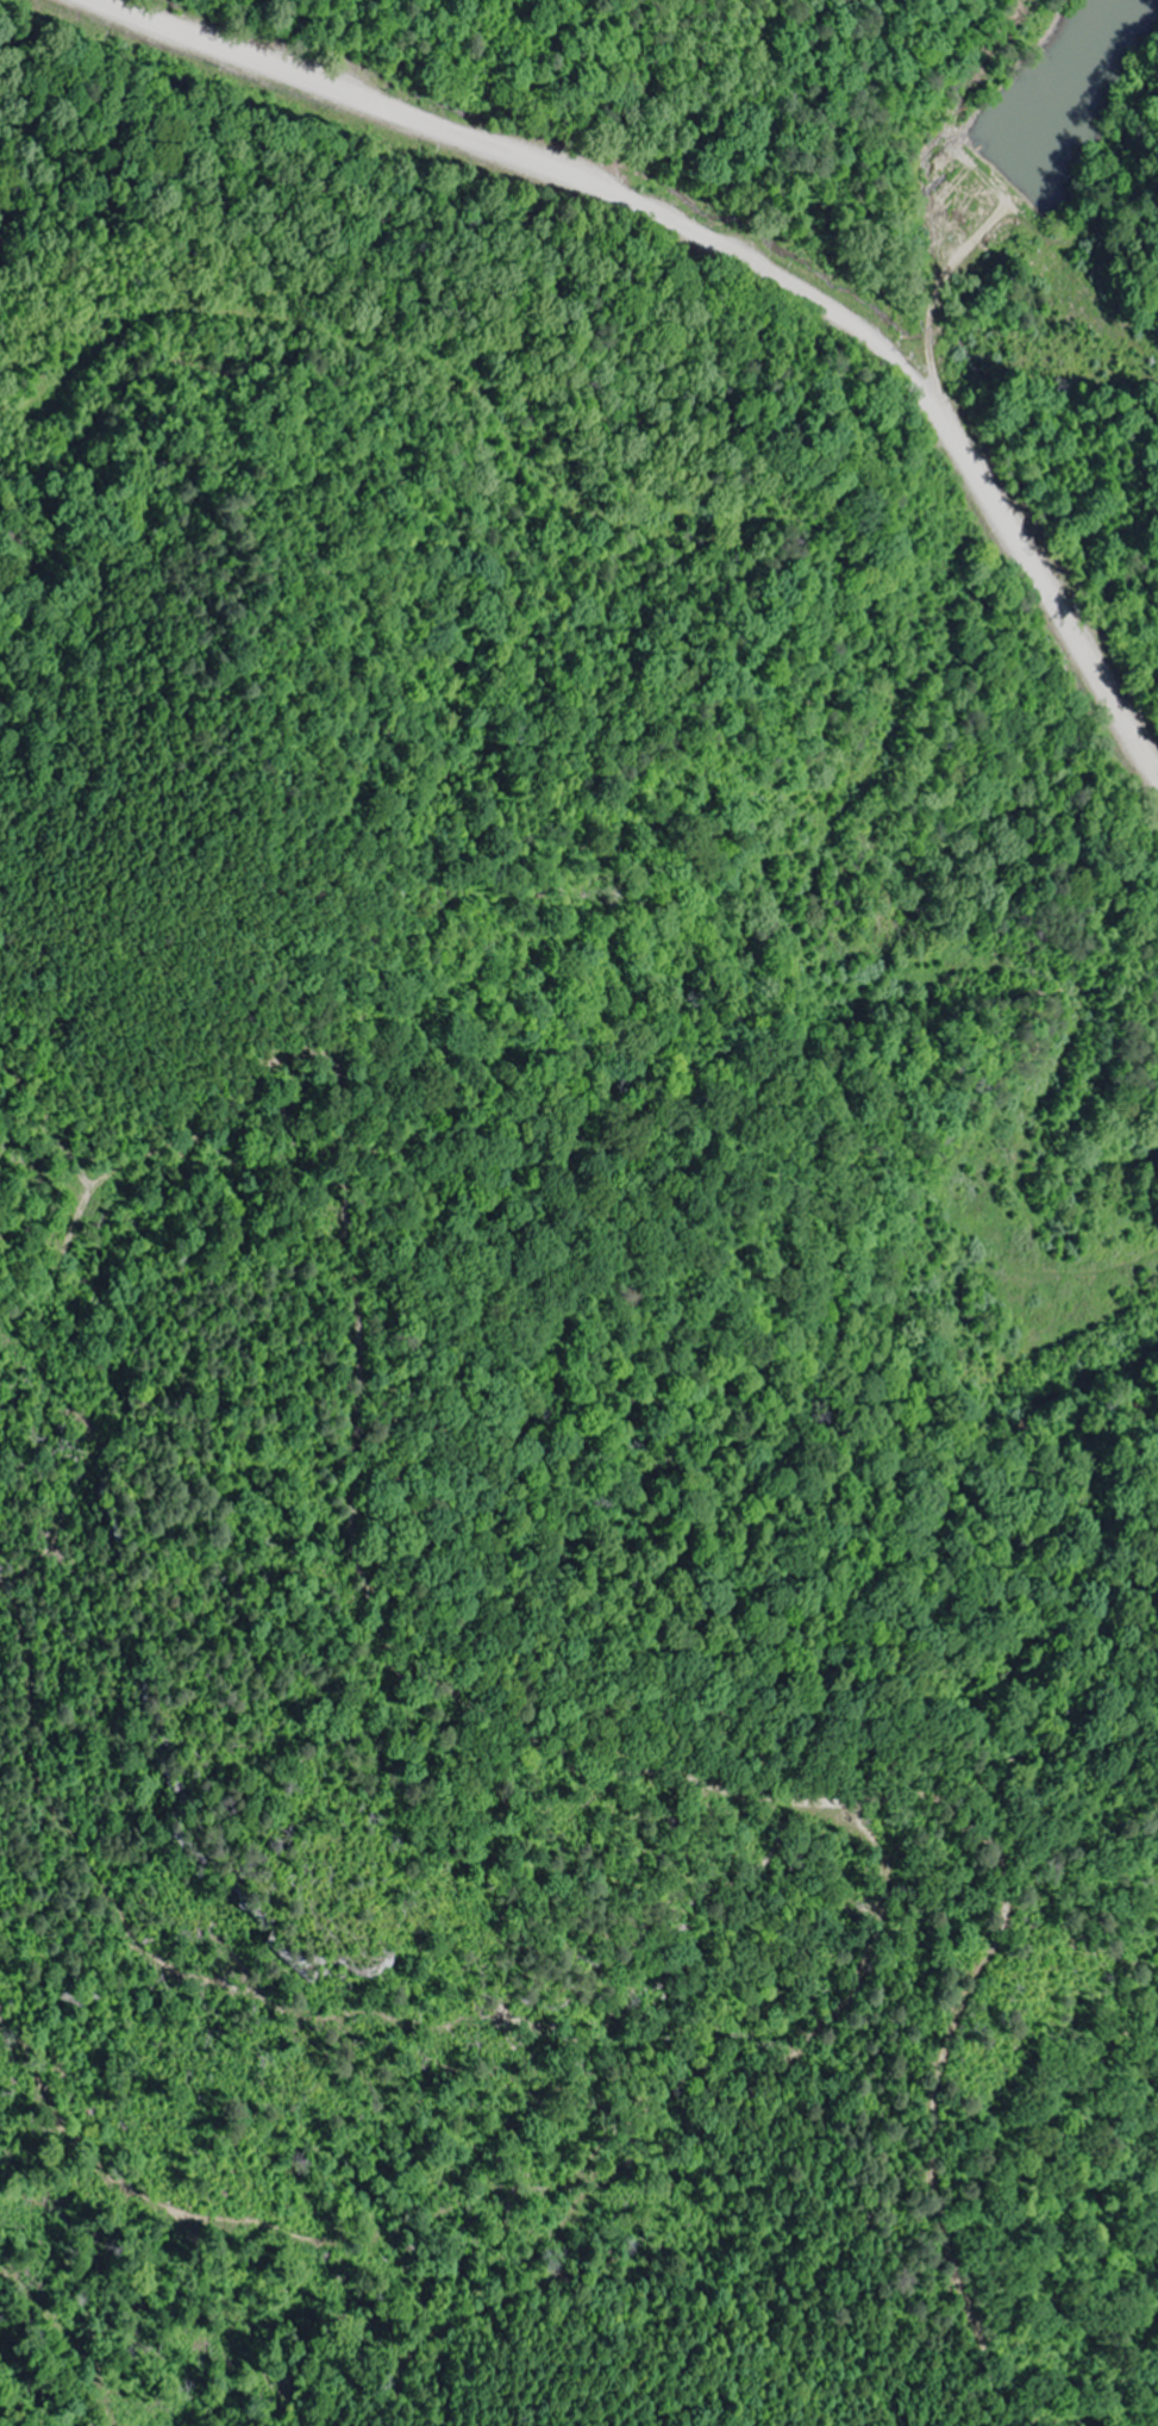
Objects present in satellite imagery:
road: (732, 255)

